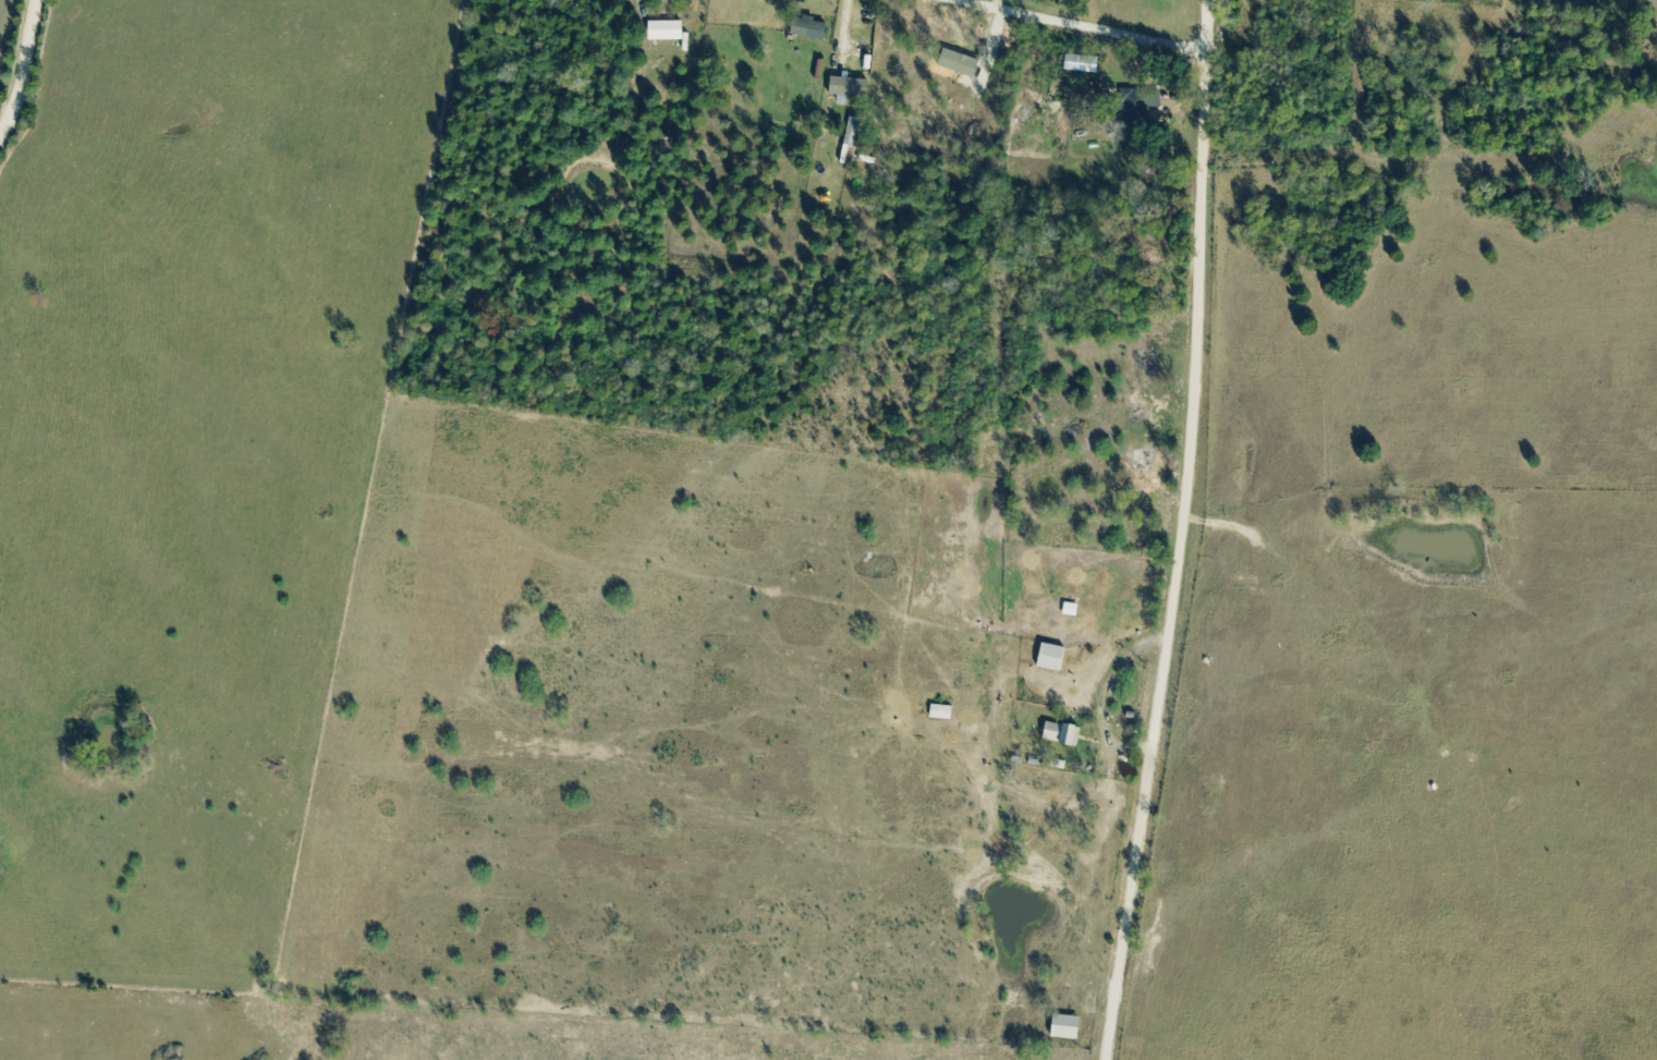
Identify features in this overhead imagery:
road: (1081, 26)
building: (811, 28)
building: (669, 32)
building: (1084, 64)
building: (874, 68)
road: (23, 71)
building: (1144, 99)
building: (852, 142)
building: (1143, 413)
building: (1145, 460)
road: (1185, 532)
building: (1056, 659)
building: (1064, 733)
building: (1069, 1028)

